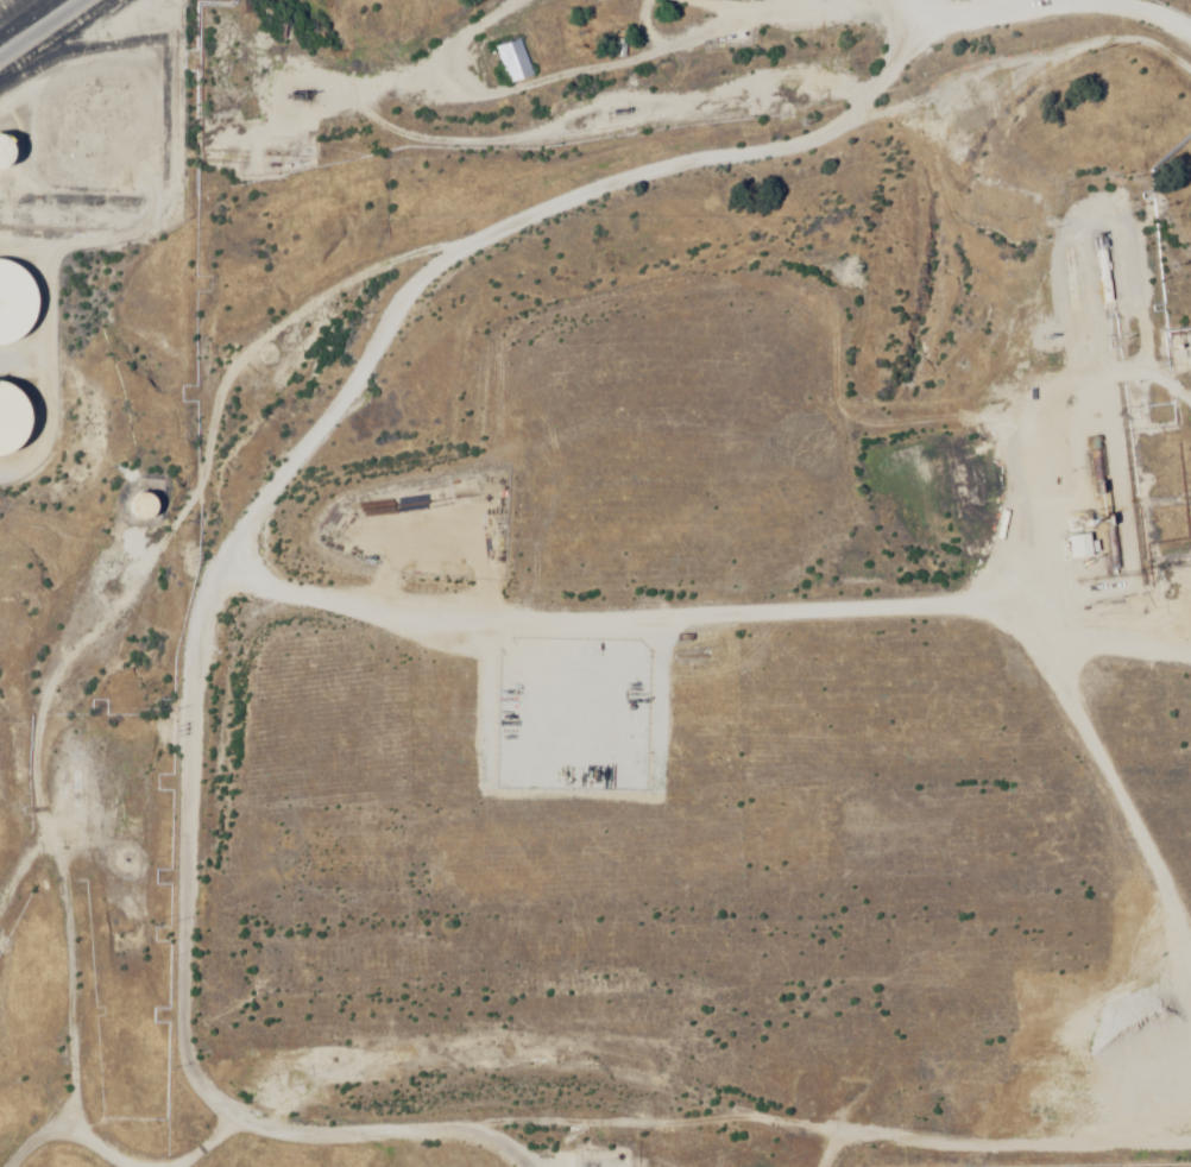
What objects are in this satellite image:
road: (833, 2)
building: (513, 62)
road: (1190, 118)
building: (5, 154)
building: (13, 302)
road: (294, 343)
building: (8, 418)
building: (141, 506)
road: (372, 610)
building: (1186, 626)
road: (326, 635)
building: (1189, 654)
road: (424, 787)
road: (376, 819)
building: (679, 820)
road: (918, 957)
road: (630, 1043)
road: (1019, 1112)
road: (1174, 1134)
road: (127, 1140)

